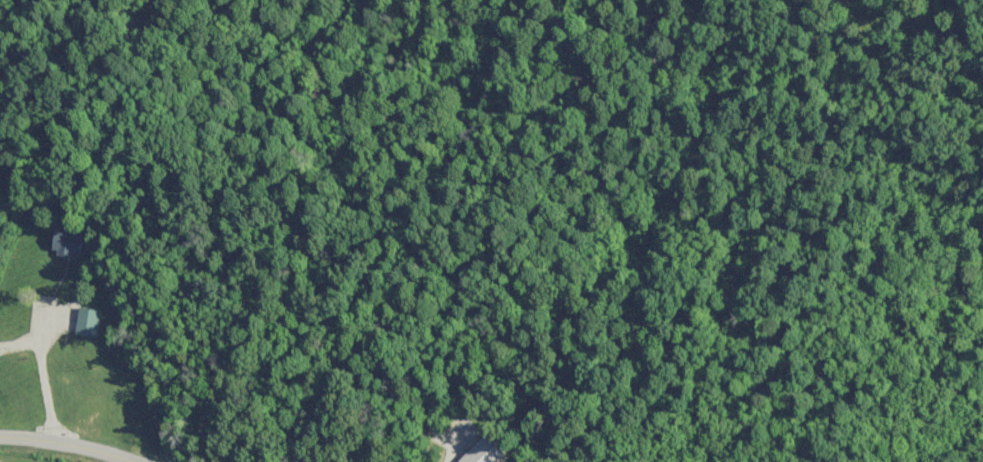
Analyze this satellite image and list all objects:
building: (63, 243)
road: (64, 447)
building: (476, 452)

